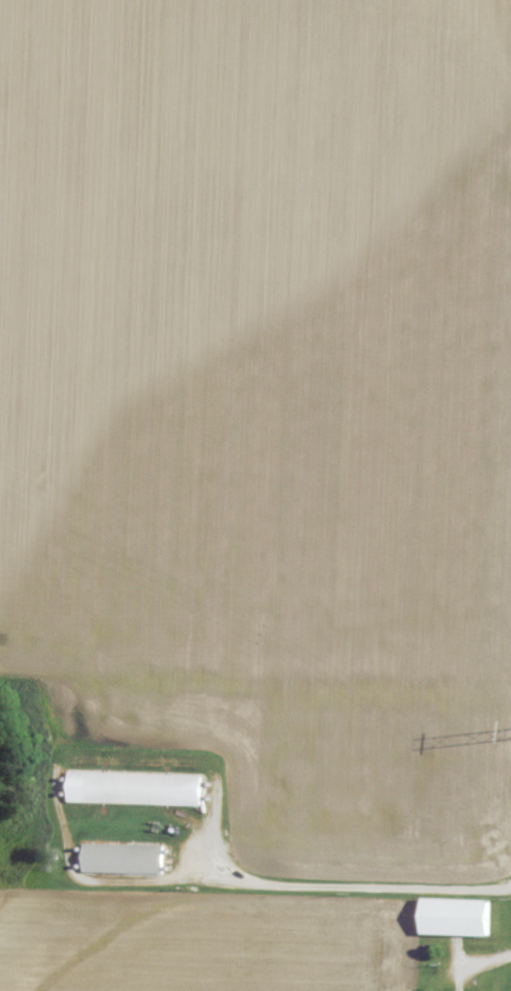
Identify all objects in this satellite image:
building: (138, 789)
building: (126, 859)
building: (460, 918)

